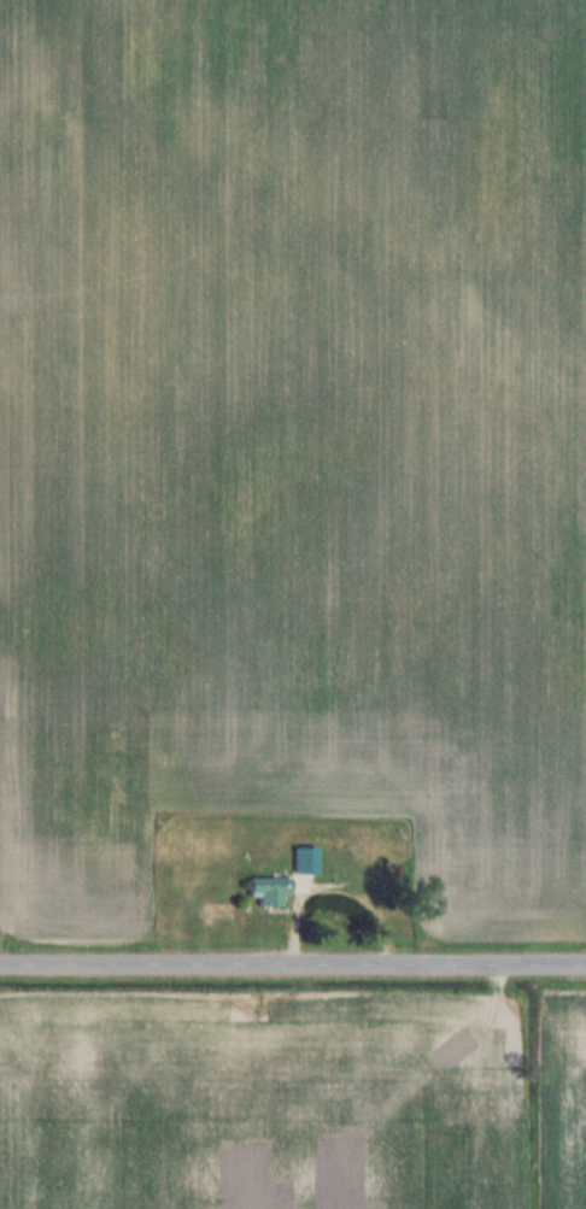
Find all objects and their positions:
building: (310, 859)
building: (274, 888)
road: (293, 963)

